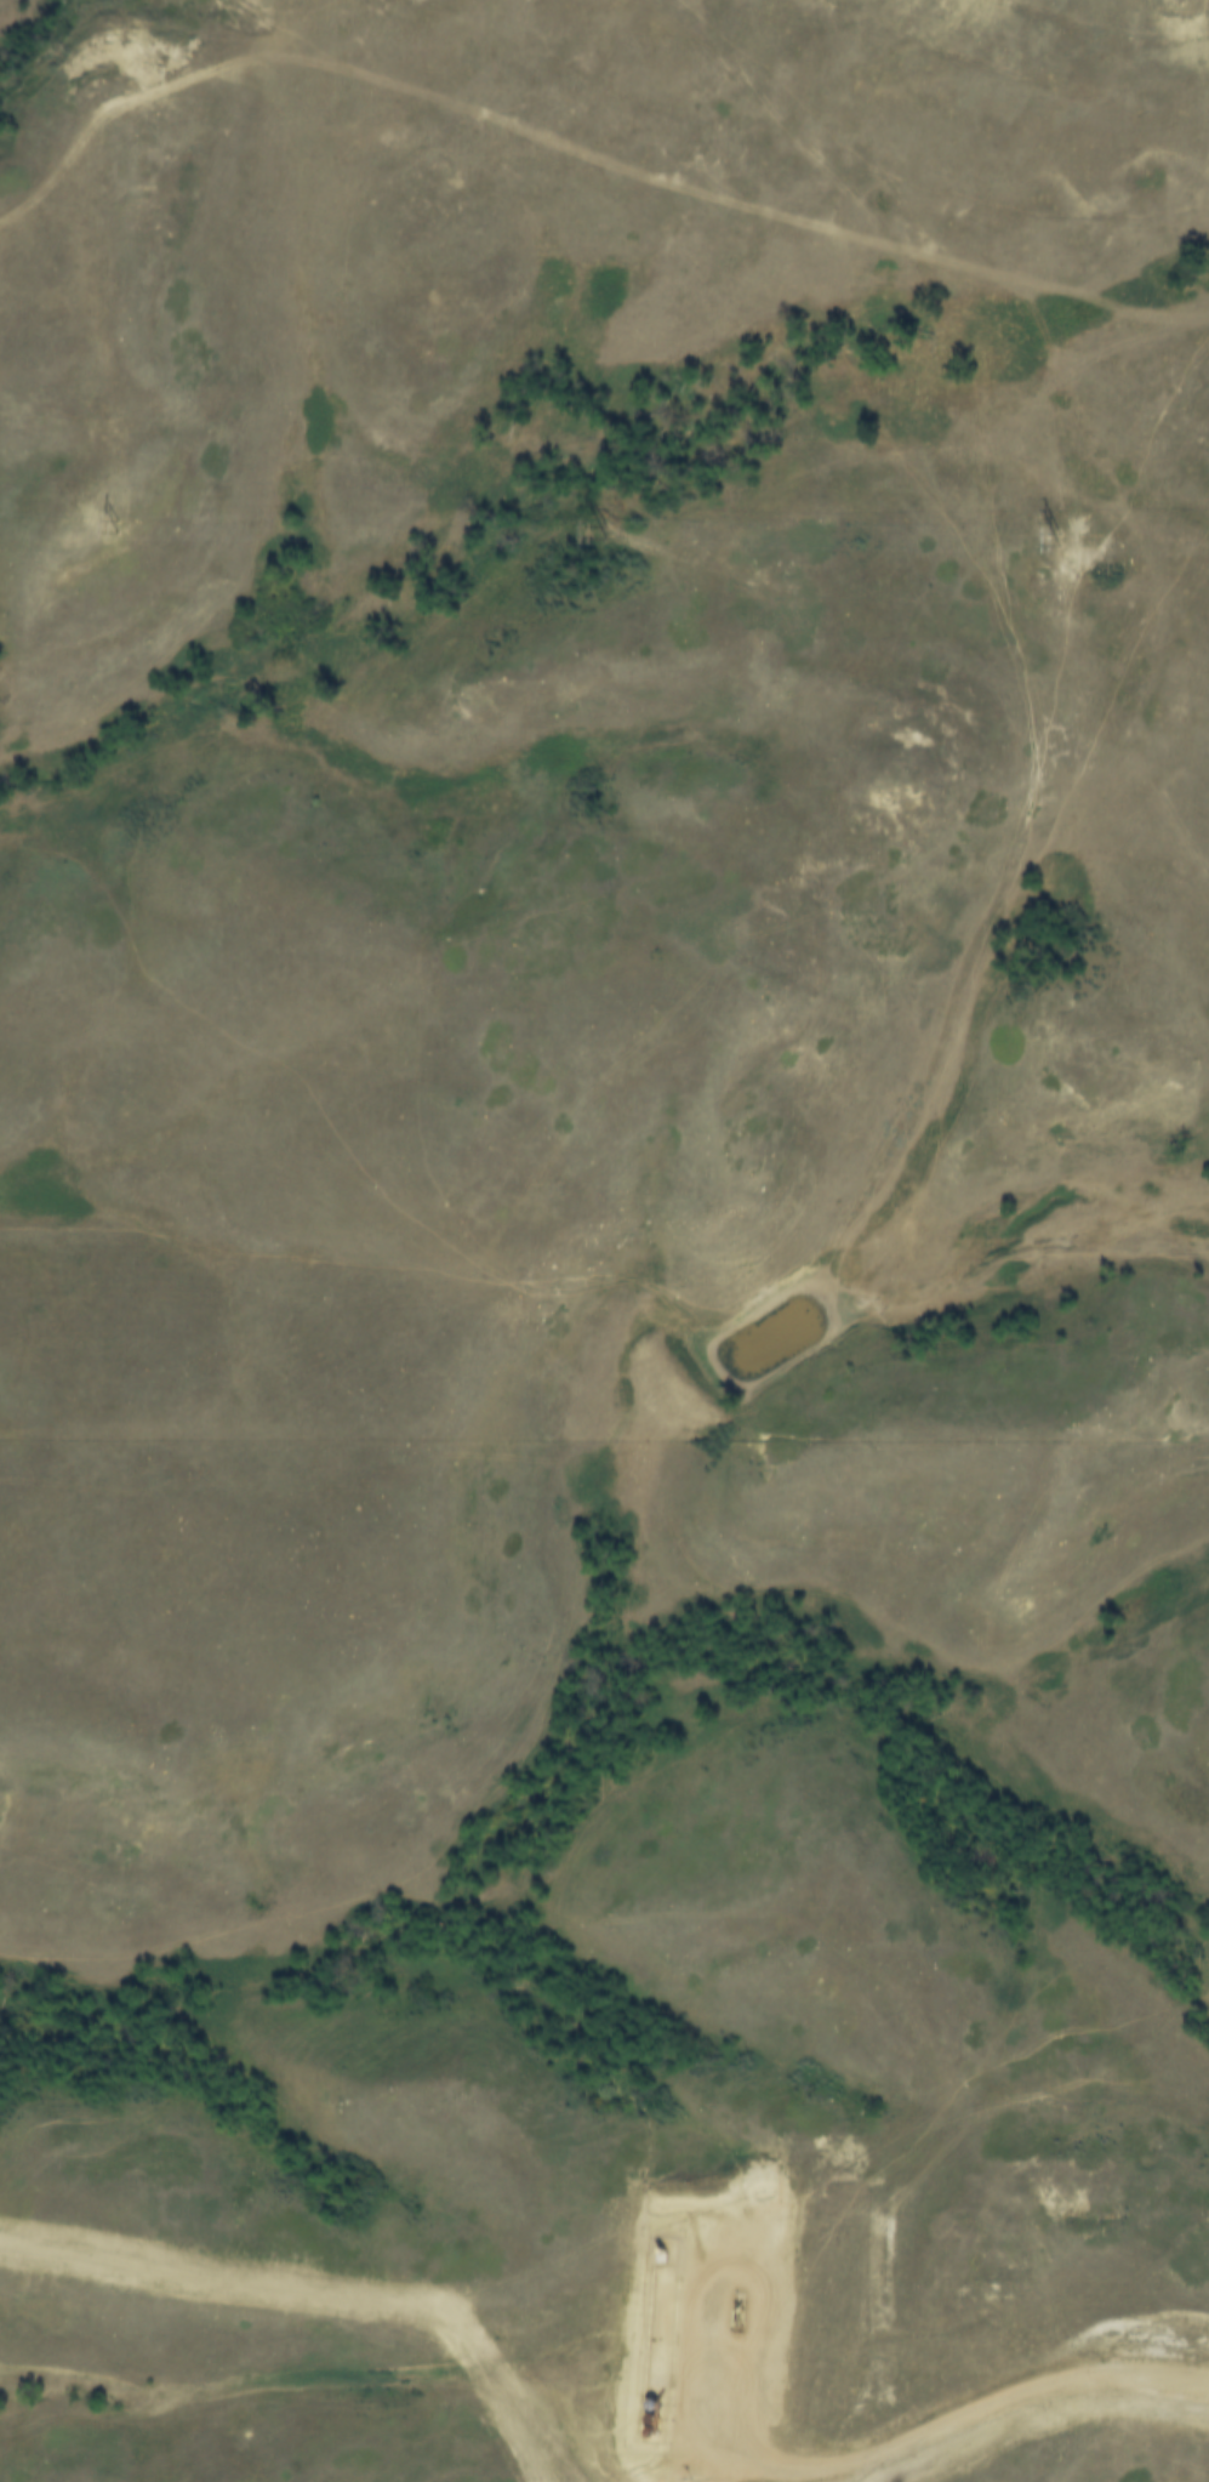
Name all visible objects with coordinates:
power tower: (127, 525)
power tower: (605, 531)
power tower: (1062, 539)
road: (908, 2447)

